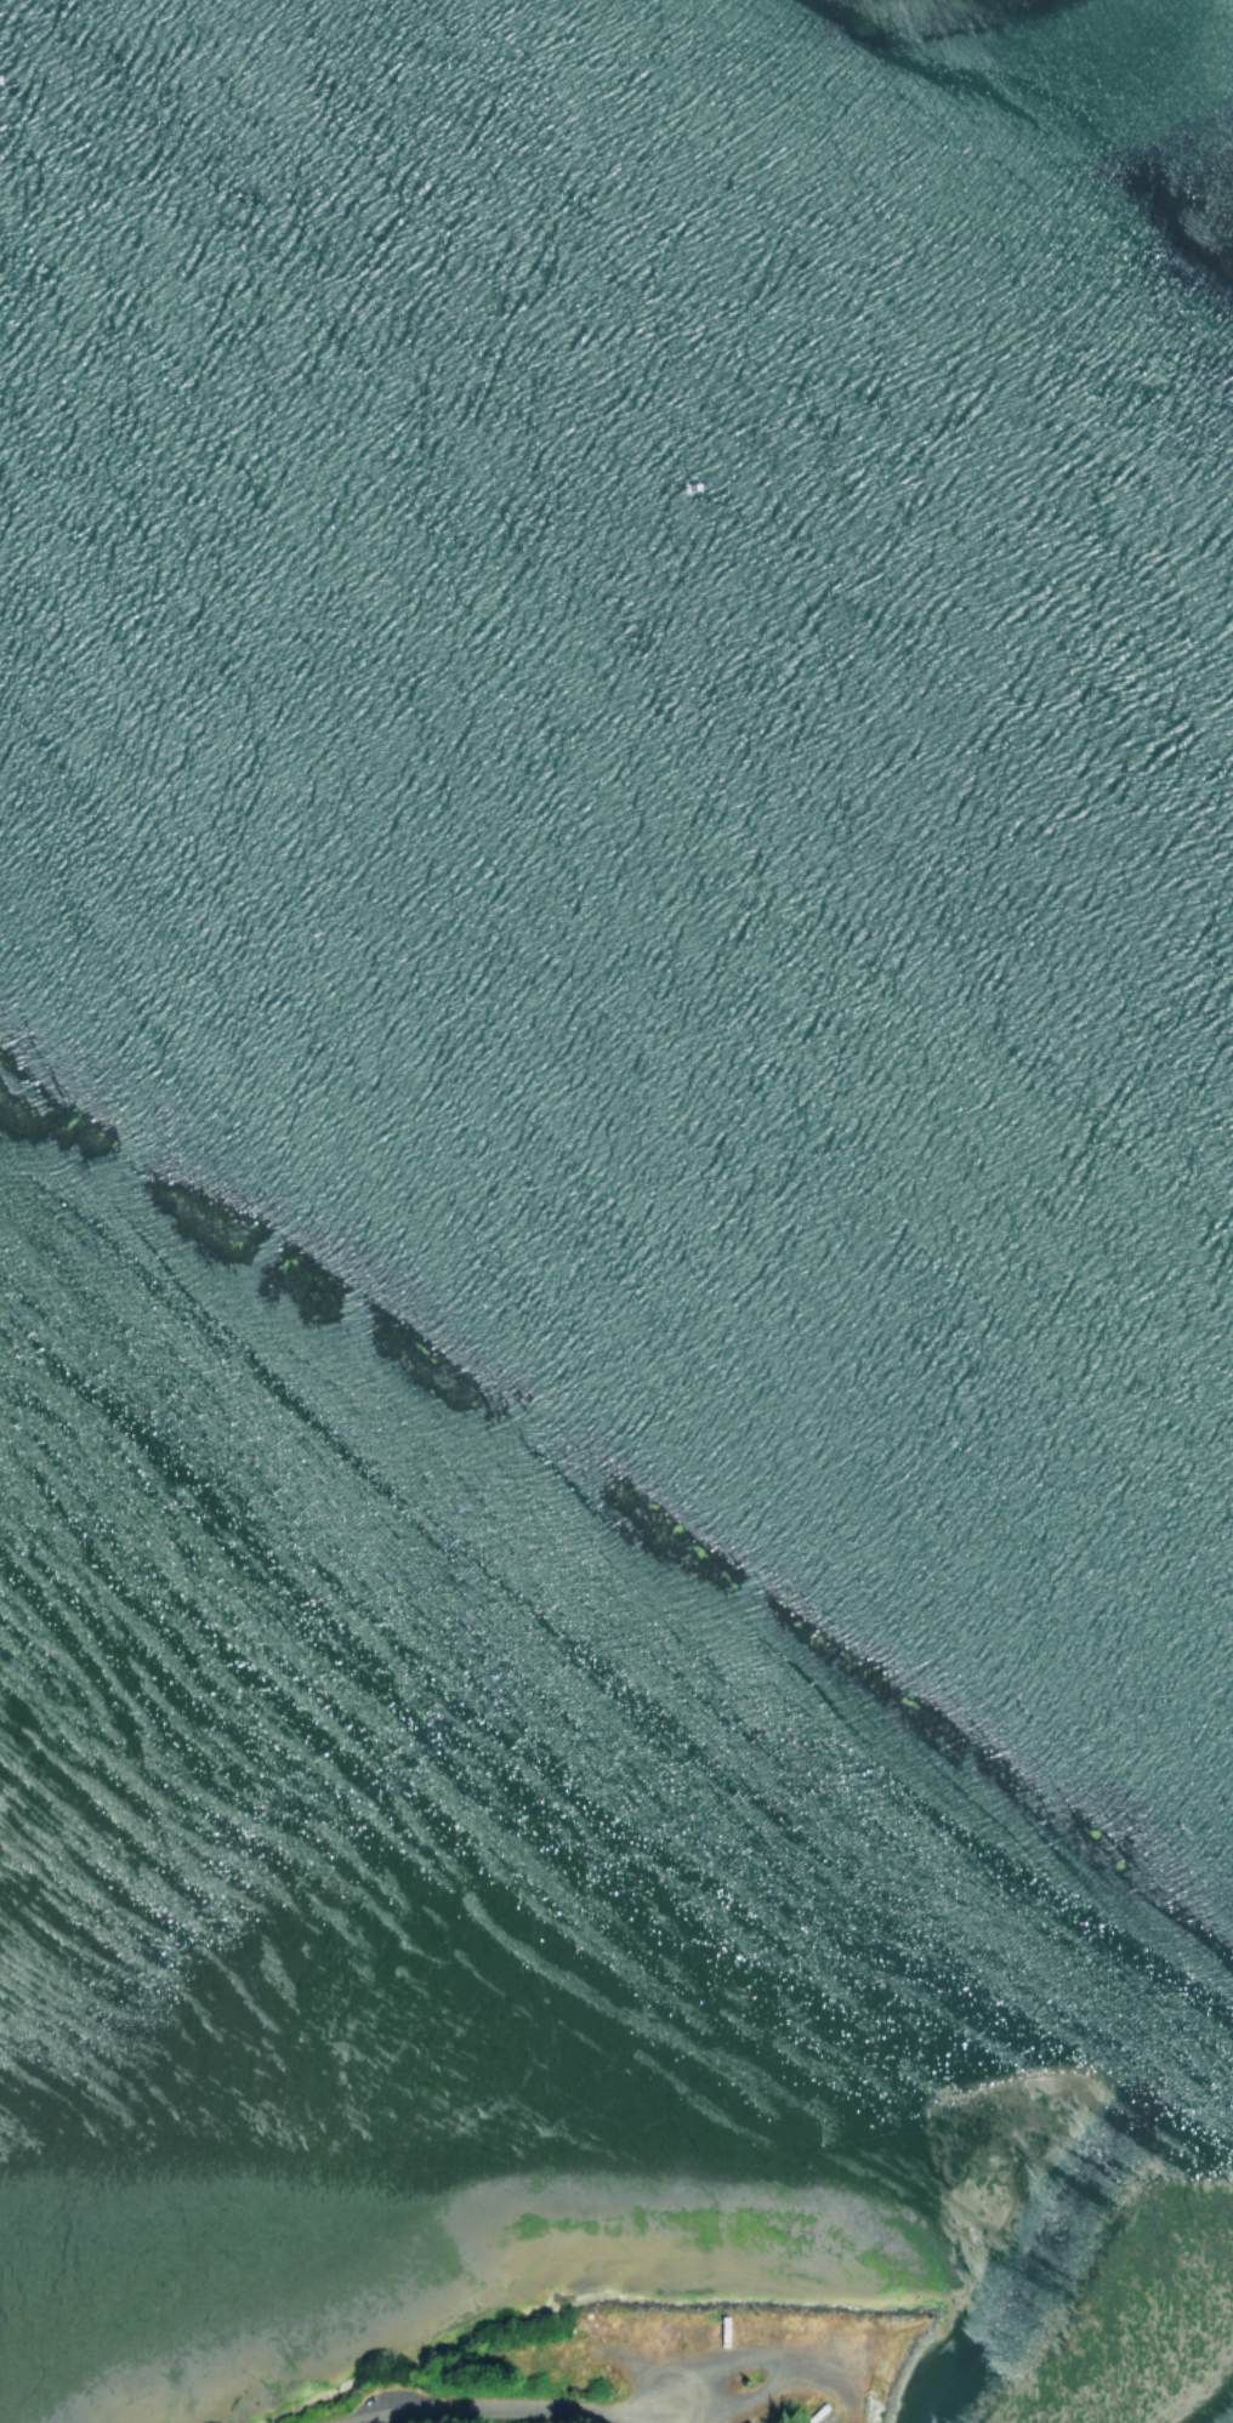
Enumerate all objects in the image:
river: (616, 753)
road: (727, 2364)
parking lot: (388, 2395)
road: (479, 2405)
road: (708, 2405)
road: (633, 2417)
road: (644, 2422)
building: (744, 2422)
building: (790, 2422)

